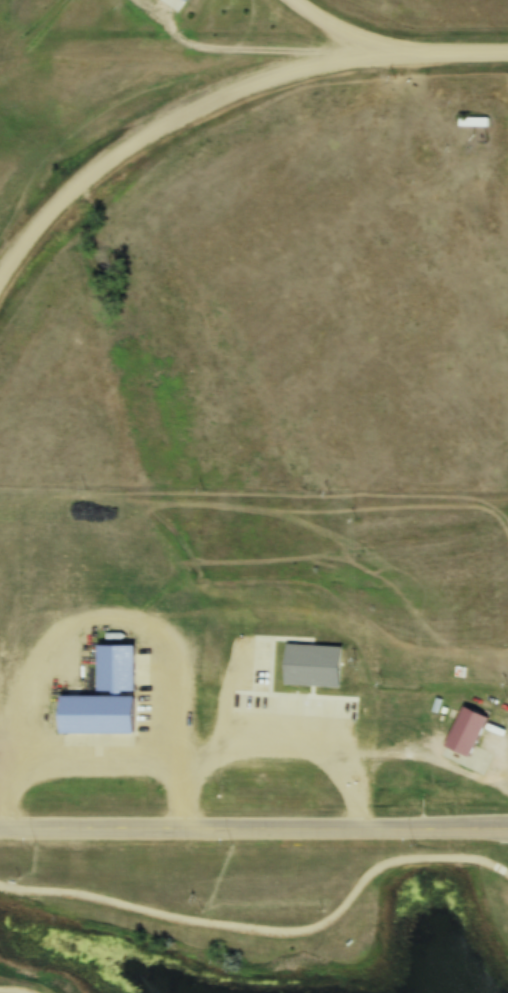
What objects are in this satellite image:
building: (168, 6)
road: (355, 38)
road: (468, 56)
road: (185, 114)
building: (472, 121)
building: (466, 731)
road: (254, 828)

